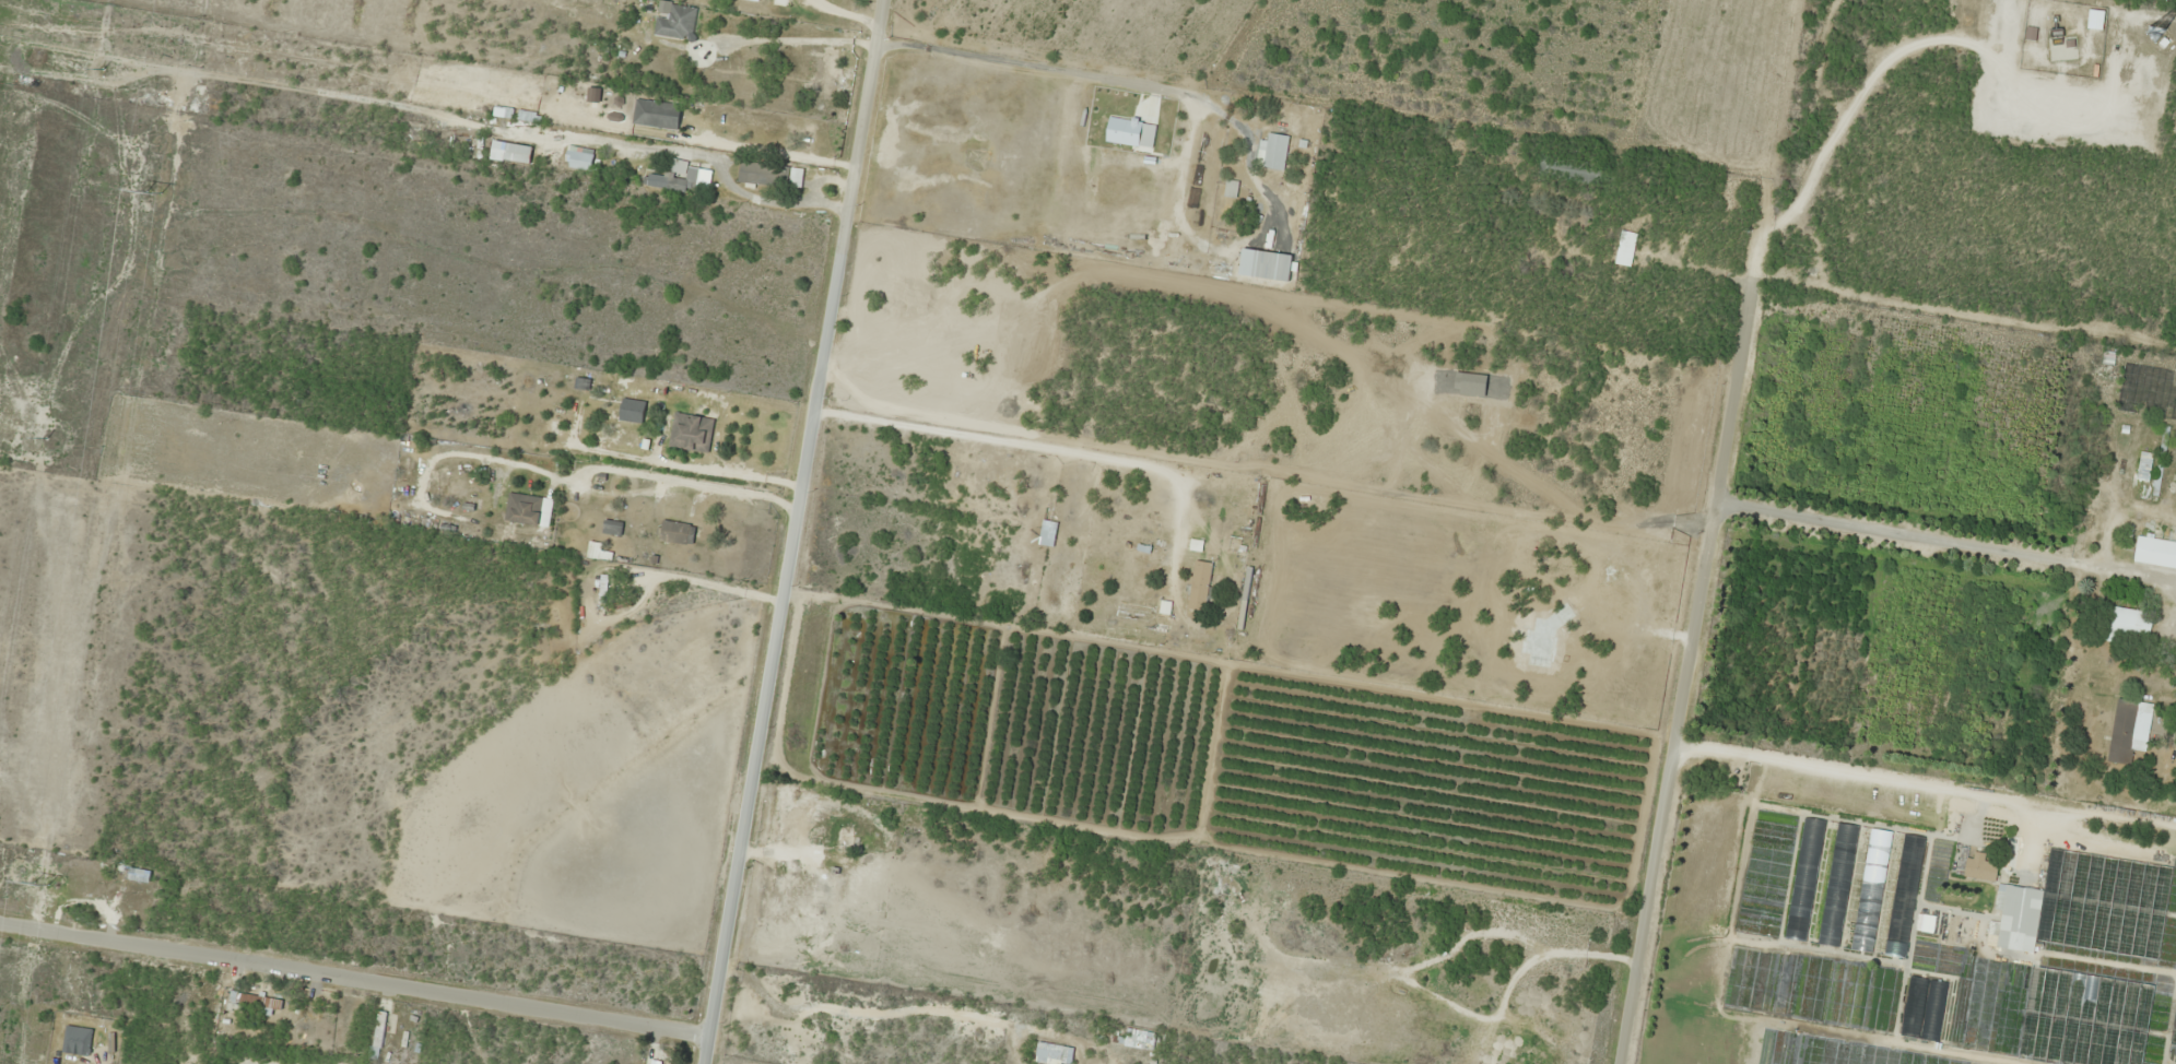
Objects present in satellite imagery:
building: (2095, 19)
building: (677, 23)
building: (2062, 48)
building: (827, 71)
building: (657, 114)
building: (1272, 152)
building: (579, 161)
building: (1572, 169)
building: (769, 175)
building: (679, 178)
power tower: (153, 192)
building: (1625, 248)
building: (632, 411)
building: (691, 433)
building: (513, 500)
building: (612, 528)
road: (798, 531)
building: (675, 533)
building: (1048, 533)
building: (2155, 552)
road: (1650, 566)
building: (1199, 586)
building: (2125, 623)
building: (2129, 730)
road: (480, 821)
building: (844, 837)
building: (8, 858)
building: (1979, 866)
building: (1804, 878)
power tower: (40, 880)
building: (1837, 884)
building: (1870, 889)
building: (108, 894)
building: (1903, 895)
building: (2089, 906)
building: (1928, 923)
road: (357, 978)
building: (255, 1003)
building: (1924, 1008)
building: (2084, 1019)
building: (2173, 1029)
building: (378, 1035)
building: (1138, 1039)
building: (1054, 1054)
building: (652, 1062)

